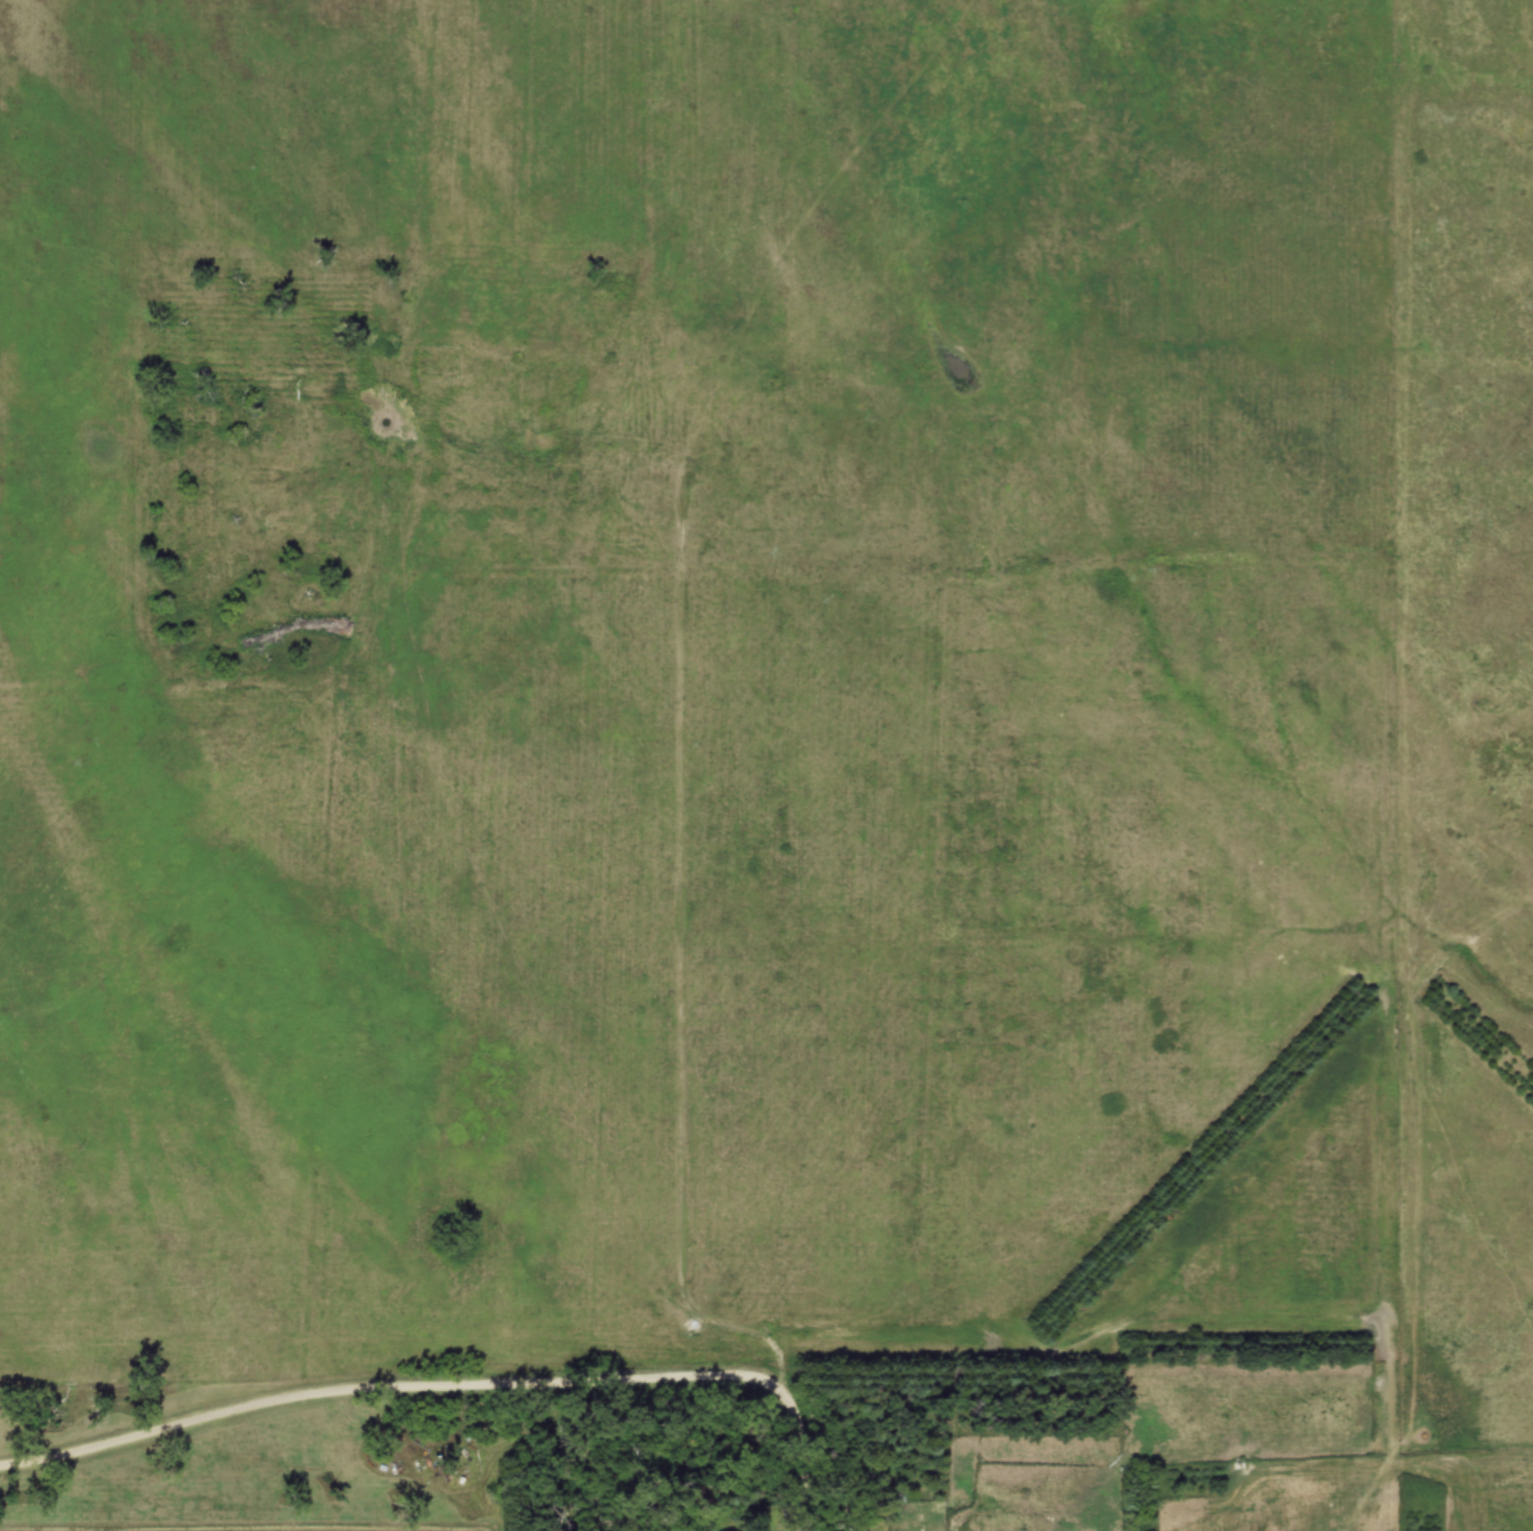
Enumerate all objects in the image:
road: (372, 1390)
road: (802, 1444)

